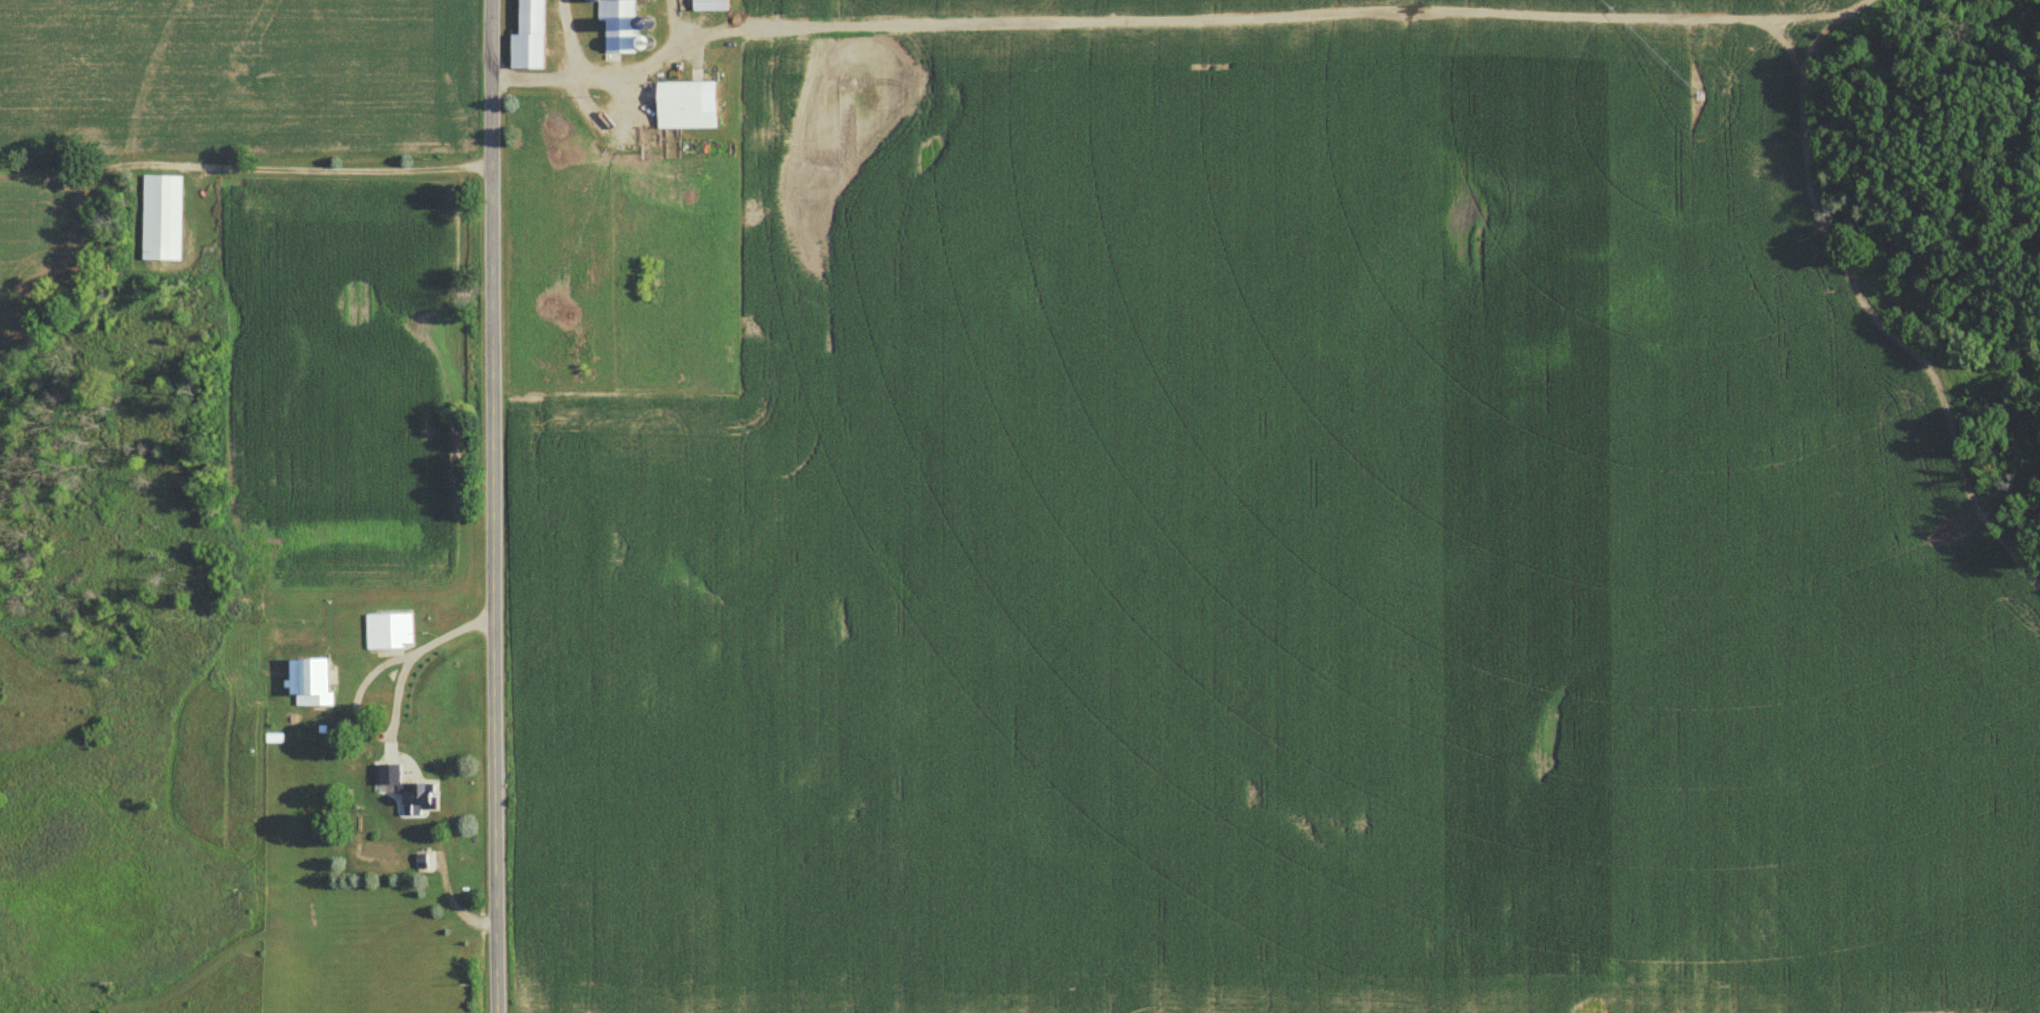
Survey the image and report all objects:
building: (715, 5)
road: (1187, 17)
building: (623, 25)
building: (533, 37)
road: (568, 72)
building: (692, 97)
road: (330, 167)
building: (163, 219)
road: (495, 506)
building: (389, 632)
road: (414, 660)
building: (314, 682)
building: (393, 775)
road: (447, 893)

